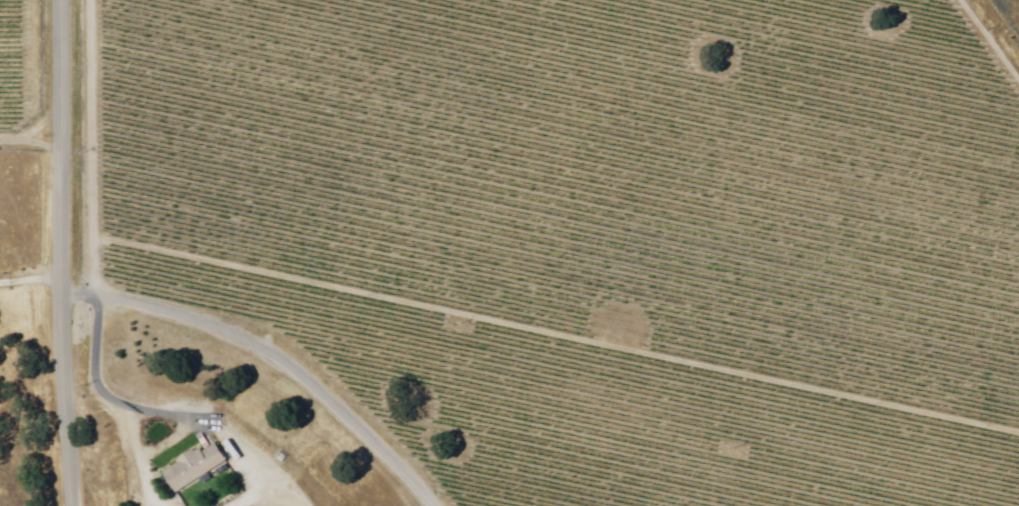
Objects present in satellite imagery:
road: (59, 253)
road: (29, 275)
road: (269, 359)
building: (197, 467)

